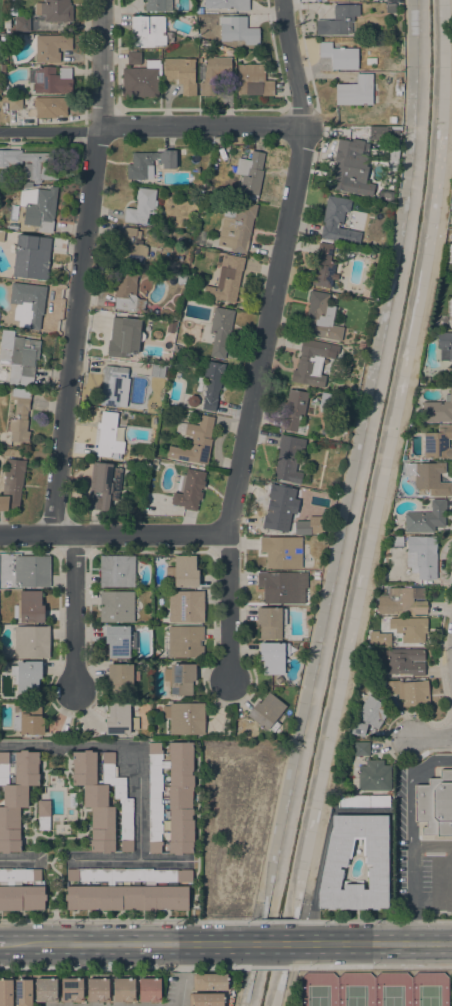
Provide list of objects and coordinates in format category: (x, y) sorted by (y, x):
building: (337, 0)
building: (227, 4)
building: (158, 5)
building: (390, 8)
building: (55, 10)
building: (338, 21)
building: (7, 23)
building: (22, 24)
building: (238, 30)
building: (148, 31)
building: (205, 46)
building: (51, 47)
building: (339, 56)
building: (239, 57)
building: (133, 58)
building: (371, 61)
building: (213, 73)
building: (181, 74)
building: (253, 79)
building: (50, 80)
building: (142, 80)
building: (356, 92)
building: (15, 102)
building: (50, 107)
building: (392, 119)
road: (150, 126)
building: (385, 135)
building: (182, 152)
building: (393, 158)
building: (150, 163)
building: (32, 164)
building: (350, 168)
building: (250, 175)
building: (208, 188)
building: (451, 205)
building: (141, 206)
building: (39, 208)
building: (338, 222)
building: (236, 225)
building: (167, 233)
building: (1, 235)
building: (130, 248)
building: (450, 253)
building: (31, 257)
road: (82, 266)
building: (324, 266)
building: (181, 279)
building: (226, 280)
building: (128, 292)
building: (371, 295)
building: (28, 305)
building: (450, 306)
building: (323, 318)
building: (220, 331)
building: (124, 337)
road: (264, 338)
building: (361, 345)
building: (445, 346)
building: (19, 358)
building: (312, 362)
building: (158, 371)
building: (211, 384)
building: (112, 385)
building: (193, 401)
building: (438, 410)
building: (294, 411)
building: (20, 419)
building: (110, 435)
building: (194, 442)
building: (438, 443)
building: (288, 458)
road: (342, 472)
building: (428, 477)
building: (12, 484)
building: (103, 485)
building: (190, 491)
road: (386, 500)
building: (277, 507)
building: (425, 518)
building: (302, 528)
road: (113, 533)
building: (394, 542)
building: (281, 551)
building: (421, 556)
building: (32, 571)
building: (116, 571)
building: (182, 572)
building: (383, 576)
building: (280, 588)
building: (421, 589)
building: (400, 602)
building: (116, 606)
building: (185, 606)
building: (29, 607)
road: (76, 610)
building: (156, 621)
building: (270, 622)
building: (409, 629)
building: (383, 639)
building: (119, 641)
building: (32, 642)
building: (183, 642)
building: (273, 657)
building: (403, 661)
building: (378, 674)
building: (26, 676)
building: (120, 678)
building: (180, 678)
building: (409, 692)
building: (266, 712)
building: (368, 716)
building: (185, 718)
building: (29, 720)
building: (119, 720)
road: (431, 739)
building: (361, 749)
road: (138, 767)
building: (374, 776)
building: (15, 794)
building: (171, 798)
building: (103, 800)
building: (363, 802)
building: (435, 805)
building: (44, 814)
road: (410, 817)
road: (17, 860)
road: (162, 860)
building: (335, 863)
building: (448, 867)
building: (127, 889)
building: (21, 890)
road: (432, 900)
road: (129, 920)
road: (373, 920)
road: (277, 921)
road: (300, 922)
road: (413, 924)
road: (273, 942)
road: (373, 942)
road: (133, 943)
road: (7, 944)
road: (291, 963)
road: (369, 966)
road: (268, 967)
road: (124, 968)
road: (181, 974)
building: (210, 982)
park: (375, 989)
building: (46, 990)
building: (71, 990)
building: (97, 990)
building: (123, 990)
building: (149, 990)
building: (23, 992)
building: (6, 993)
road: (285, 995)
building: (206, 1000)

